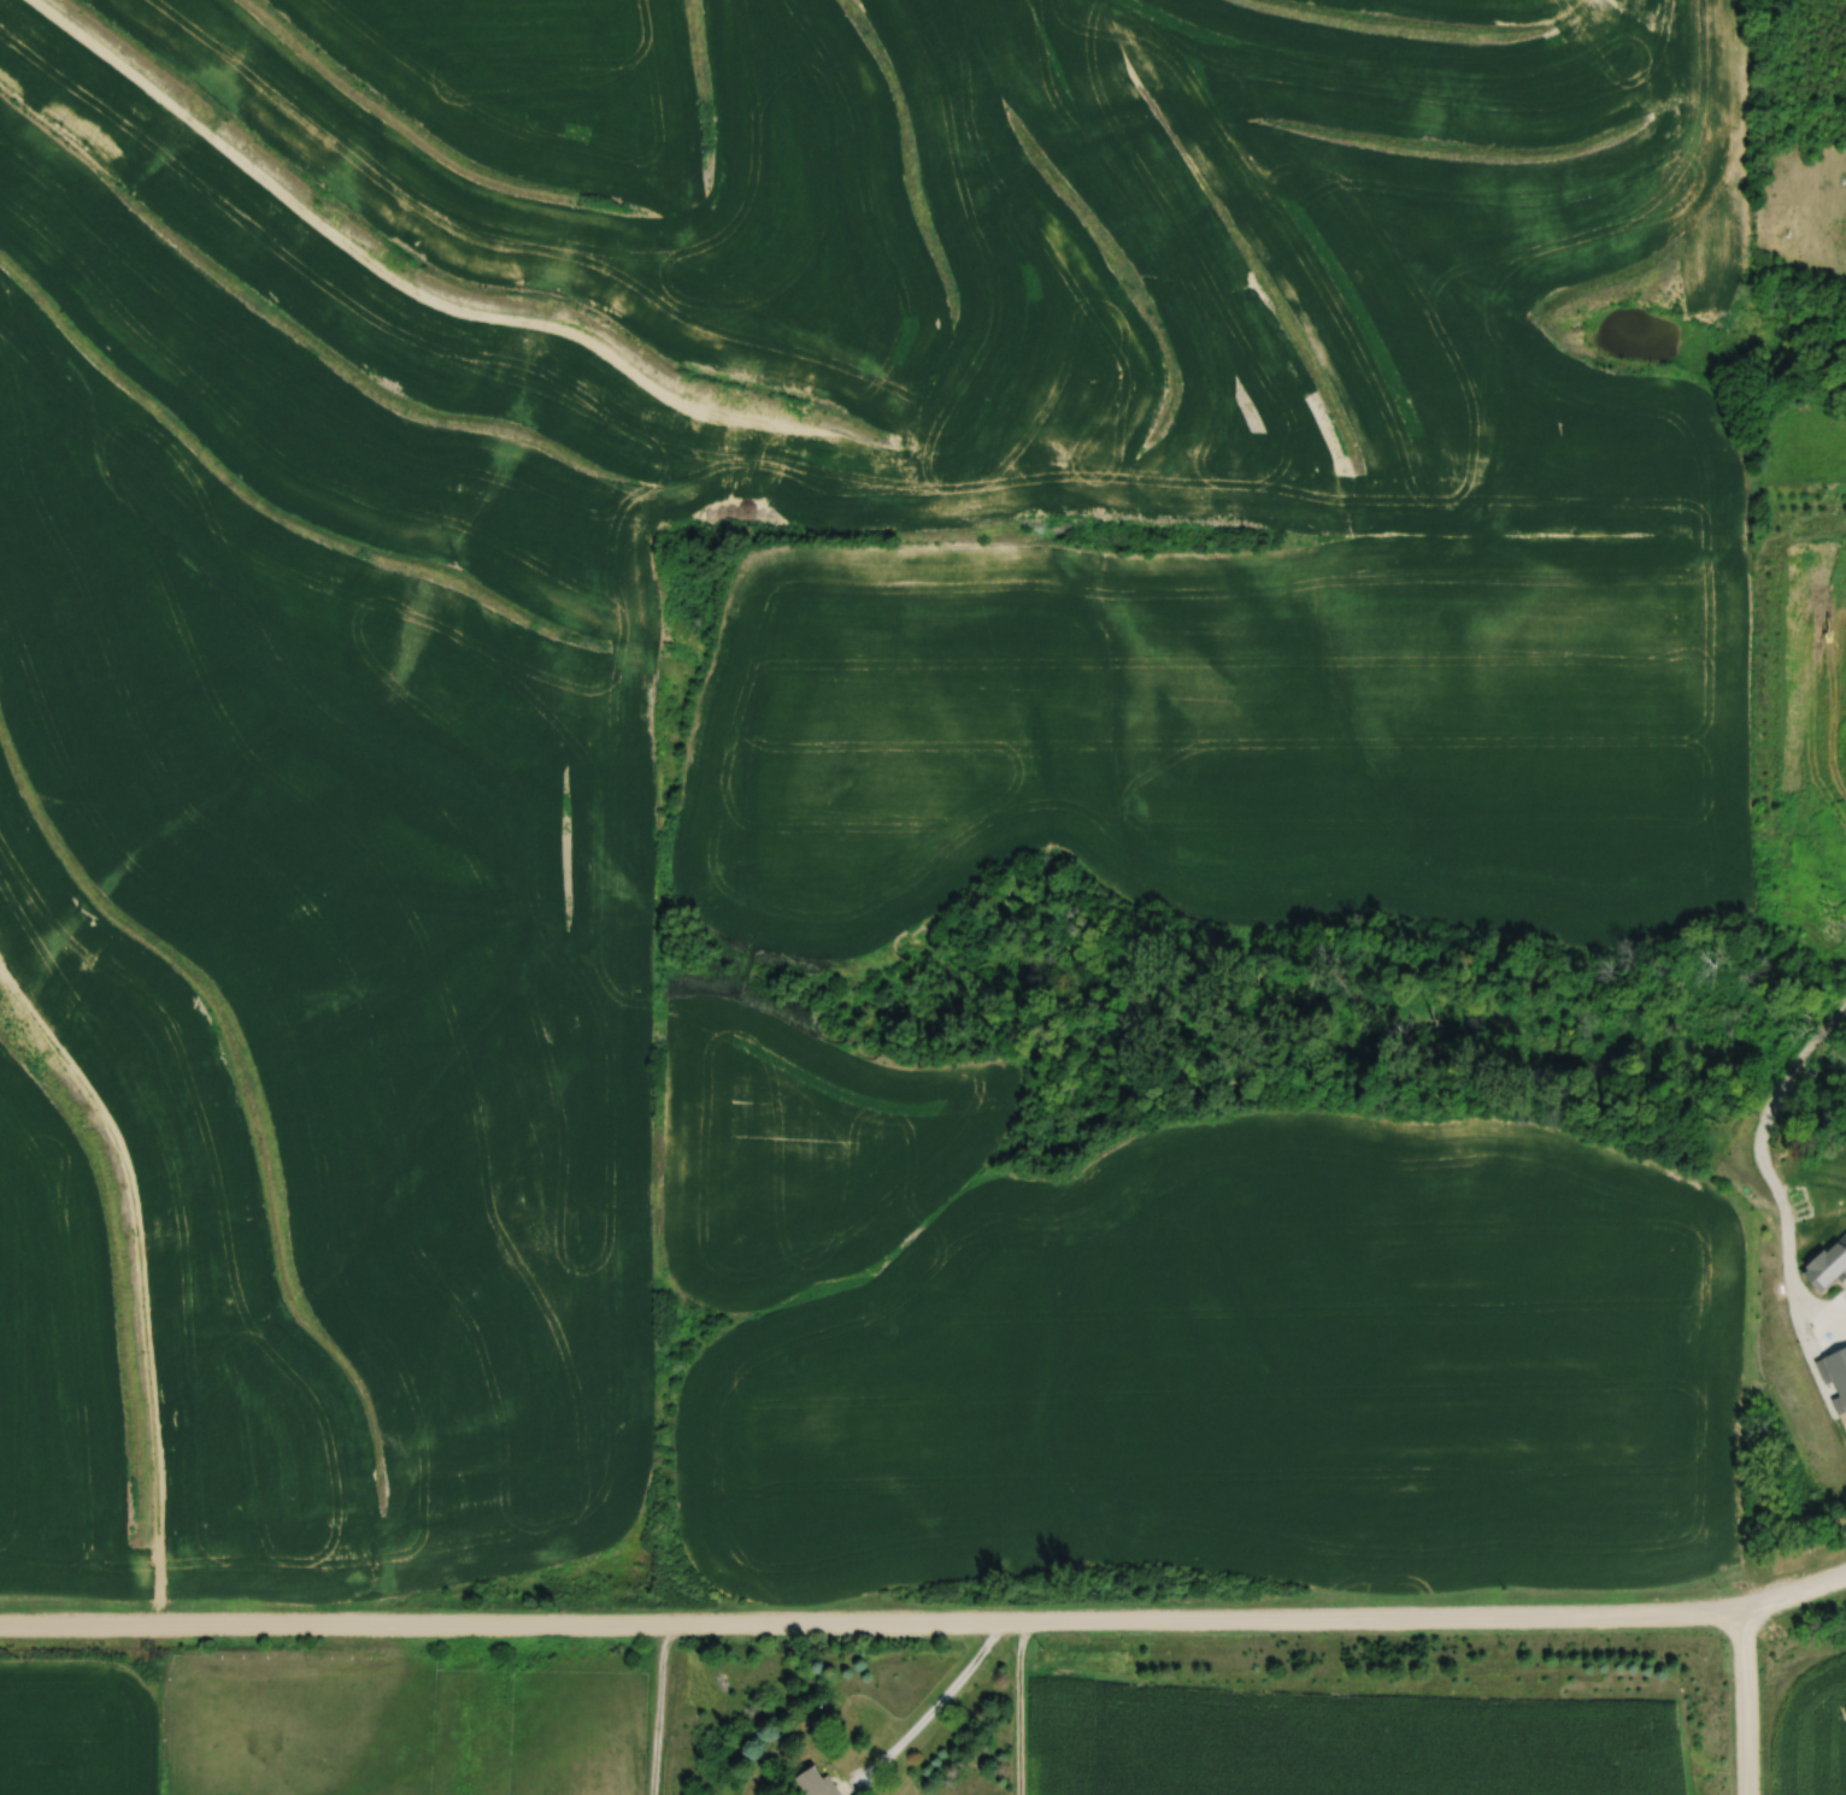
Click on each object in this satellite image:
road: (869, 1628)
road: (1742, 1648)
road: (935, 1709)
road: (1022, 1711)
road: (657, 1712)
building: (813, 1782)

